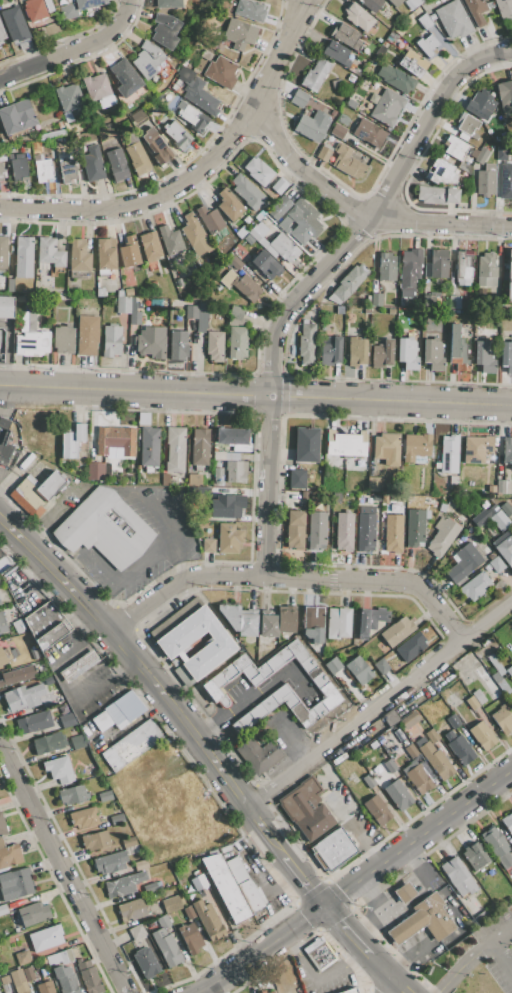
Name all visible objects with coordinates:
building: (394, 2)
building: (412, 3)
building: (168, 4)
building: (369, 4)
building: (47, 6)
building: (78, 7)
building: (34, 10)
building: (249, 10)
building: (476, 10)
building: (505, 10)
building: (432, 17)
building: (358, 18)
building: (453, 20)
building: (425, 21)
building: (13, 23)
building: (165, 30)
building: (1, 33)
building: (239, 34)
building: (346, 36)
building: (395, 40)
building: (427, 45)
road: (73, 50)
building: (379, 51)
building: (336, 53)
building: (206, 55)
building: (147, 59)
building: (412, 63)
building: (221, 72)
building: (316, 74)
building: (125, 78)
building: (396, 78)
building: (337, 83)
building: (95, 86)
building: (196, 92)
building: (68, 97)
building: (505, 97)
building: (299, 99)
building: (349, 103)
building: (479, 104)
building: (386, 107)
building: (68, 116)
building: (191, 116)
building: (16, 117)
building: (338, 118)
building: (466, 123)
building: (59, 125)
building: (312, 125)
building: (338, 131)
building: (369, 133)
building: (51, 134)
building: (177, 135)
building: (43, 143)
building: (49, 144)
building: (155, 145)
building: (455, 148)
building: (324, 152)
building: (501, 153)
building: (481, 155)
building: (36, 158)
building: (138, 158)
building: (345, 161)
building: (93, 164)
building: (117, 165)
building: (17, 166)
building: (42, 170)
building: (66, 170)
building: (258, 171)
road: (196, 172)
building: (440, 172)
building: (2, 174)
building: (485, 180)
building: (506, 181)
building: (279, 186)
building: (247, 192)
building: (436, 195)
building: (228, 205)
building: (279, 207)
building: (262, 212)
road: (359, 212)
building: (209, 219)
building: (303, 220)
building: (266, 221)
building: (284, 222)
building: (241, 231)
building: (195, 235)
building: (248, 239)
building: (169, 240)
building: (274, 243)
building: (149, 246)
building: (235, 251)
building: (3, 252)
building: (49, 252)
building: (129, 252)
building: (106, 254)
building: (78, 256)
building: (23, 257)
building: (234, 262)
building: (265, 265)
building: (436, 265)
building: (386, 267)
building: (463, 267)
building: (487, 270)
building: (409, 271)
building: (509, 277)
road: (312, 279)
building: (348, 283)
building: (241, 284)
building: (10, 285)
building: (152, 286)
building: (100, 291)
building: (119, 292)
building: (128, 292)
building: (19, 299)
building: (376, 299)
building: (403, 301)
building: (454, 302)
building: (122, 304)
building: (6, 307)
building: (367, 310)
building: (191, 312)
building: (134, 313)
building: (217, 315)
building: (202, 316)
building: (235, 316)
building: (27, 321)
building: (87, 335)
building: (63, 339)
building: (111, 340)
building: (150, 341)
building: (32, 342)
building: (237, 343)
building: (307, 343)
building: (177, 344)
building: (214, 346)
building: (457, 350)
building: (331, 352)
building: (356, 352)
building: (407, 353)
building: (382, 354)
building: (432, 354)
building: (484, 356)
building: (506, 356)
road: (256, 395)
building: (143, 419)
building: (233, 438)
building: (115, 440)
building: (71, 441)
building: (4, 442)
building: (346, 444)
building: (307, 445)
building: (148, 446)
building: (416, 447)
building: (200, 448)
building: (386, 448)
building: (175, 449)
building: (477, 449)
building: (507, 450)
building: (449, 454)
building: (228, 468)
building: (95, 471)
building: (165, 479)
building: (193, 479)
building: (297, 479)
building: (149, 481)
building: (453, 482)
building: (374, 484)
building: (503, 487)
building: (39, 489)
building: (491, 489)
building: (376, 497)
building: (410, 498)
building: (228, 506)
building: (442, 507)
building: (505, 509)
road: (45, 514)
building: (427, 514)
building: (490, 515)
building: (295, 518)
building: (104, 528)
building: (365, 528)
building: (415, 528)
building: (316, 530)
building: (344, 532)
building: (393, 533)
building: (442, 536)
building: (294, 537)
building: (229, 538)
road: (174, 541)
building: (208, 546)
building: (503, 548)
building: (464, 562)
building: (5, 564)
building: (497, 564)
building: (486, 568)
road: (114, 579)
road: (289, 579)
building: (475, 586)
building: (498, 586)
building: (0, 603)
building: (230, 615)
building: (176, 618)
building: (285, 619)
building: (370, 620)
building: (338, 622)
building: (312, 623)
building: (247, 624)
building: (2, 625)
building: (46, 625)
building: (268, 625)
building: (18, 626)
building: (396, 631)
building: (172, 644)
building: (410, 646)
building: (382, 647)
building: (7, 655)
building: (333, 665)
building: (78, 666)
building: (381, 666)
road: (78, 669)
building: (358, 670)
building: (509, 671)
building: (495, 673)
building: (17, 675)
building: (47, 680)
road: (149, 681)
building: (488, 681)
building: (211, 688)
building: (478, 696)
building: (23, 697)
road: (251, 697)
building: (511, 700)
building: (472, 702)
road: (379, 703)
building: (129, 706)
building: (116, 715)
building: (389, 717)
building: (410, 719)
building: (502, 719)
building: (66, 720)
building: (33, 722)
building: (453, 722)
building: (398, 735)
building: (482, 735)
building: (432, 736)
building: (419, 741)
building: (77, 742)
building: (47, 743)
building: (131, 745)
building: (459, 748)
building: (411, 750)
building: (258, 754)
building: (338, 759)
building: (436, 760)
building: (389, 765)
building: (409, 766)
building: (425, 766)
building: (58, 769)
building: (419, 779)
building: (368, 781)
building: (397, 794)
building: (72, 795)
building: (105, 796)
building: (306, 808)
building: (376, 810)
building: (83, 817)
building: (117, 818)
building: (507, 822)
building: (2, 827)
road: (418, 837)
building: (495, 840)
building: (96, 841)
building: (128, 842)
building: (1, 843)
building: (332, 850)
building: (226, 851)
building: (10, 855)
building: (474, 855)
building: (109, 862)
building: (140, 865)
building: (235, 870)
road: (64, 871)
building: (457, 876)
road: (303, 881)
building: (198, 882)
building: (15, 884)
building: (124, 884)
building: (150, 886)
building: (225, 888)
building: (404, 892)
building: (250, 896)
road: (410, 900)
building: (171, 904)
traffic signals: (324, 905)
building: (3, 909)
building: (131, 910)
building: (32, 913)
building: (188, 913)
building: (208, 920)
building: (424, 920)
road: (346, 930)
road: (503, 931)
building: (136, 932)
building: (45, 938)
building: (191, 938)
building: (166, 943)
road: (262, 949)
road: (502, 952)
building: (320, 955)
building: (65, 956)
building: (23, 957)
building: (53, 959)
road: (405, 959)
building: (145, 962)
road: (463, 963)
road: (380, 968)
parking lot: (487, 971)
building: (28, 973)
building: (88, 976)
building: (65, 979)
road: (315, 979)
building: (4, 980)
building: (18, 981)
building: (45, 987)
road: (387, 987)
road: (398, 987)
building: (349, 991)
building: (263, 992)
building: (271, 992)

